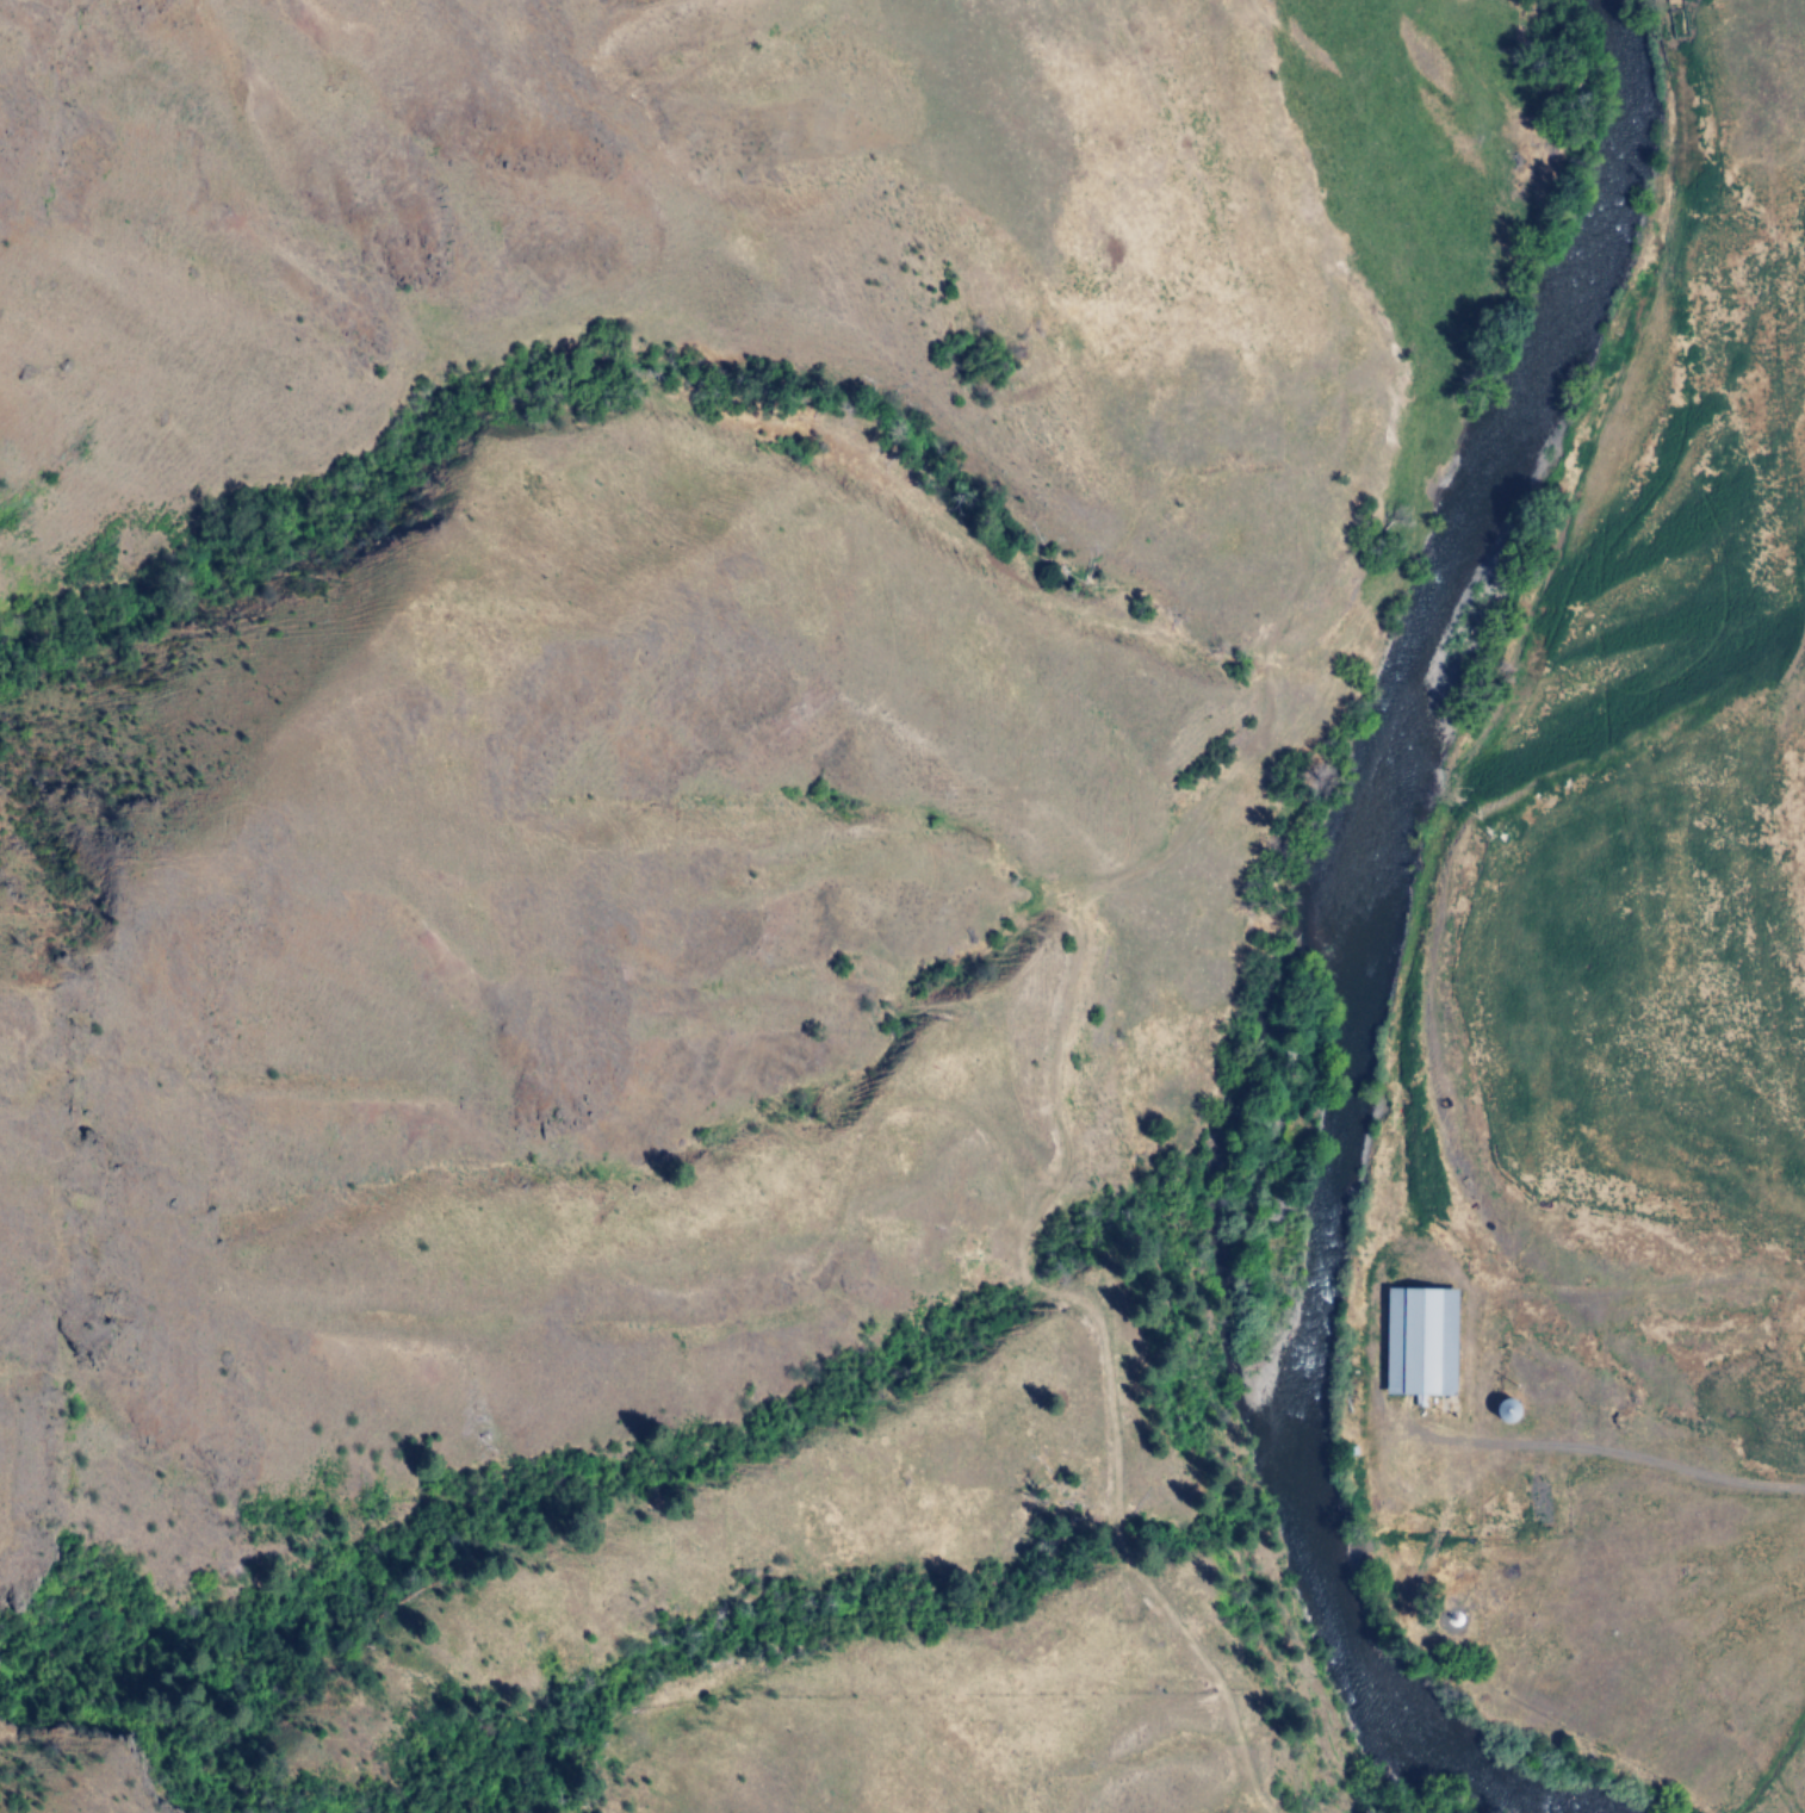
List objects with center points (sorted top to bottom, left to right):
river: (1353, 926)
building: (1420, 1343)
building: (1507, 1411)
building: (1537, 1503)

